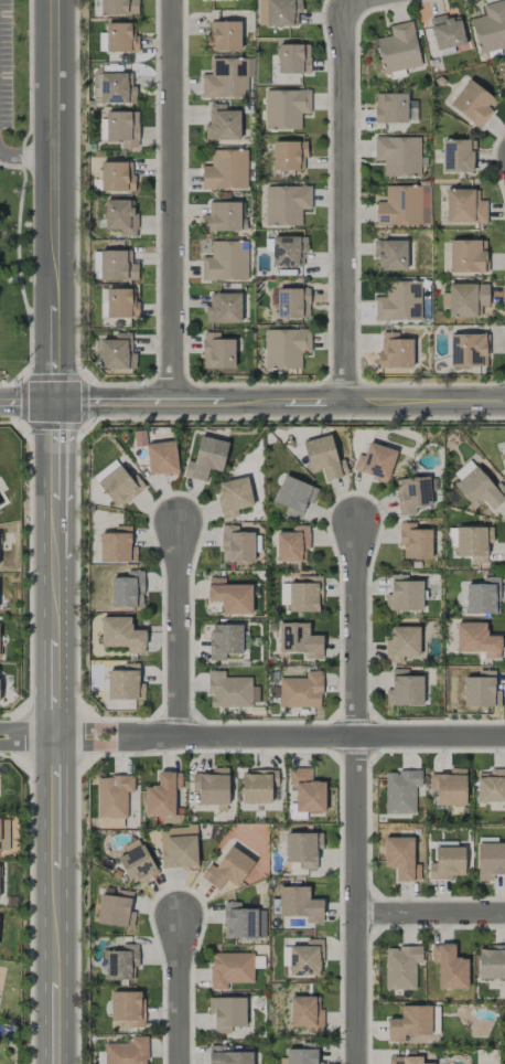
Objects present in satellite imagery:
building: (118, 7)
building: (278, 12)
building: (490, 28)
building: (447, 31)
building: (224, 36)
building: (121, 38)
building: (398, 47)
building: (293, 58)
parking lot: (6, 64)
building: (225, 78)
road: (55, 81)
building: (114, 88)
building: (473, 103)
building: (390, 107)
building: (286, 108)
building: (222, 124)
building: (122, 128)
road: (28, 156)
building: (289, 156)
building: (398, 156)
building: (458, 156)
building: (225, 170)
building: (117, 177)
park: (13, 189)
road: (174, 201)
road: (347, 201)
building: (286, 204)
building: (404, 205)
building: (464, 206)
building: (120, 216)
building: (223, 217)
building: (288, 251)
building: (390, 255)
building: (468, 256)
building: (225, 262)
building: (117, 266)
building: (465, 299)
building: (121, 302)
building: (399, 302)
building: (291, 304)
building: (223, 308)
building: (284, 348)
building: (469, 350)
building: (217, 351)
building: (395, 351)
building: (117, 352)
road: (251, 403)
building: (322, 457)
building: (161, 458)
building: (206, 458)
building: (375, 461)
building: (463, 469)
building: (504, 469)
building: (105, 470)
building: (120, 486)
building: (480, 490)
building: (412, 494)
building: (233, 496)
building: (293, 496)
building: (415, 542)
building: (473, 542)
building: (292, 544)
building: (237, 545)
building: (117, 546)
building: (127, 590)
building: (304, 595)
building: (229, 596)
building: (483, 596)
road: (58, 613)
road: (182, 632)
building: (121, 634)
building: (224, 640)
building: (299, 640)
building: (476, 640)
building: (401, 642)
building: (125, 683)
building: (405, 689)
building: (230, 690)
building: (301, 691)
building: (480, 692)
road: (30, 738)
road: (282, 740)
building: (258, 786)
building: (491, 786)
building: (212, 787)
building: (449, 787)
building: (307, 791)
building: (401, 791)
road: (358, 792)
building: (112, 796)
building: (163, 797)
building: (3, 834)
building: (176, 849)
building: (303, 849)
building: (401, 858)
building: (490, 860)
building: (448, 863)
building: (136, 864)
building: (227, 869)
building: (299, 904)
building: (116, 909)
road: (432, 916)
building: (305, 959)
building: (121, 962)
building: (491, 962)
building: (401, 967)
building: (449, 967)
building: (230, 969)
road: (181, 992)
building: (128, 1008)
building: (227, 1013)
building: (307, 1013)
building: (409, 1022)
building: (126, 1052)
building: (227, 1056)
building: (301, 1056)
building: (406, 1060)

